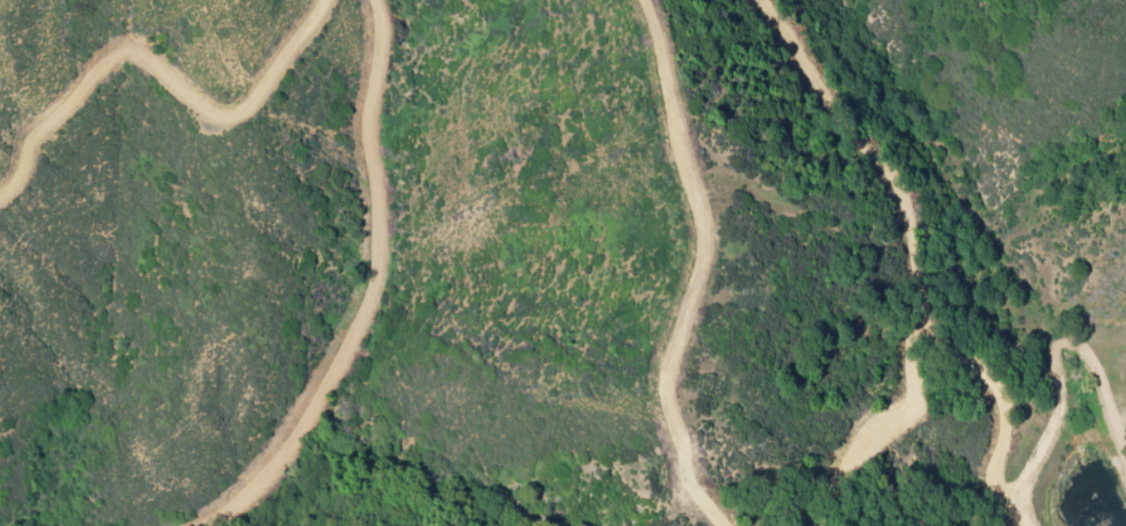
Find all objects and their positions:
road: (857, 147)
road: (1008, 405)

